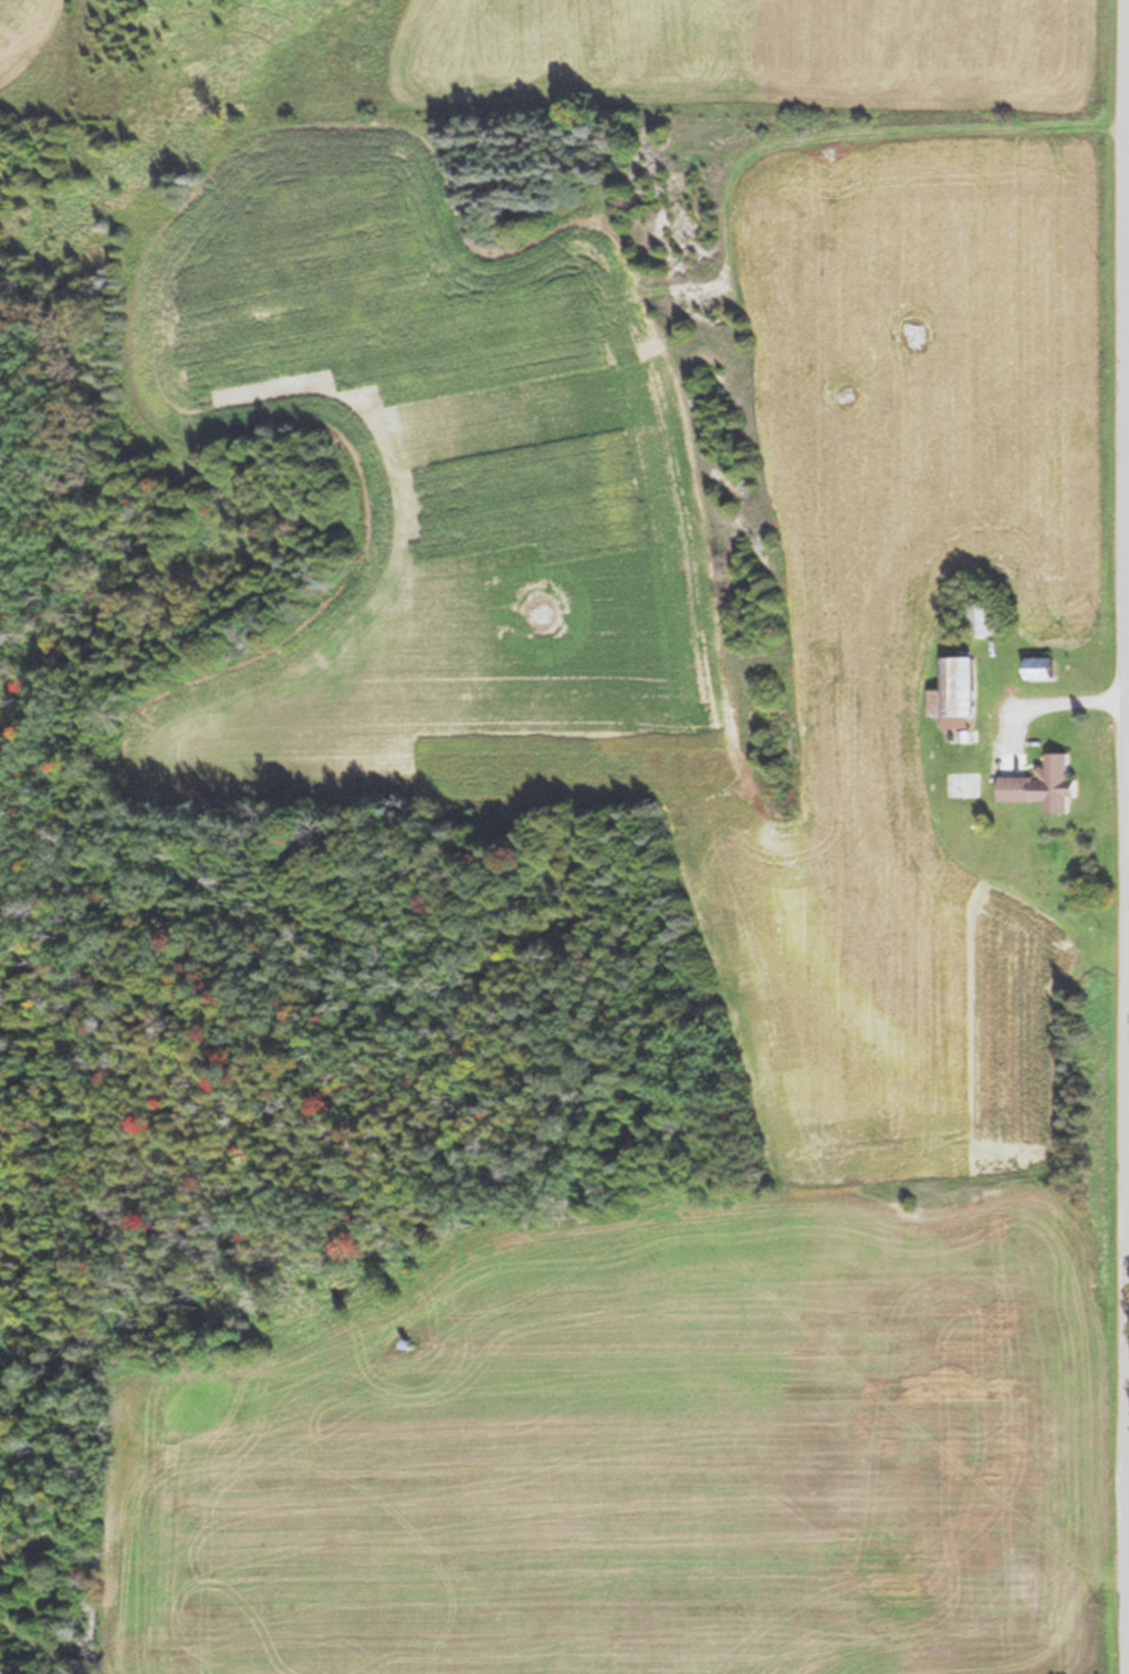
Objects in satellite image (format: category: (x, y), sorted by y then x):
road: (1128, 446)
building: (984, 617)
building: (1041, 668)
building: (954, 688)
building: (1042, 784)

